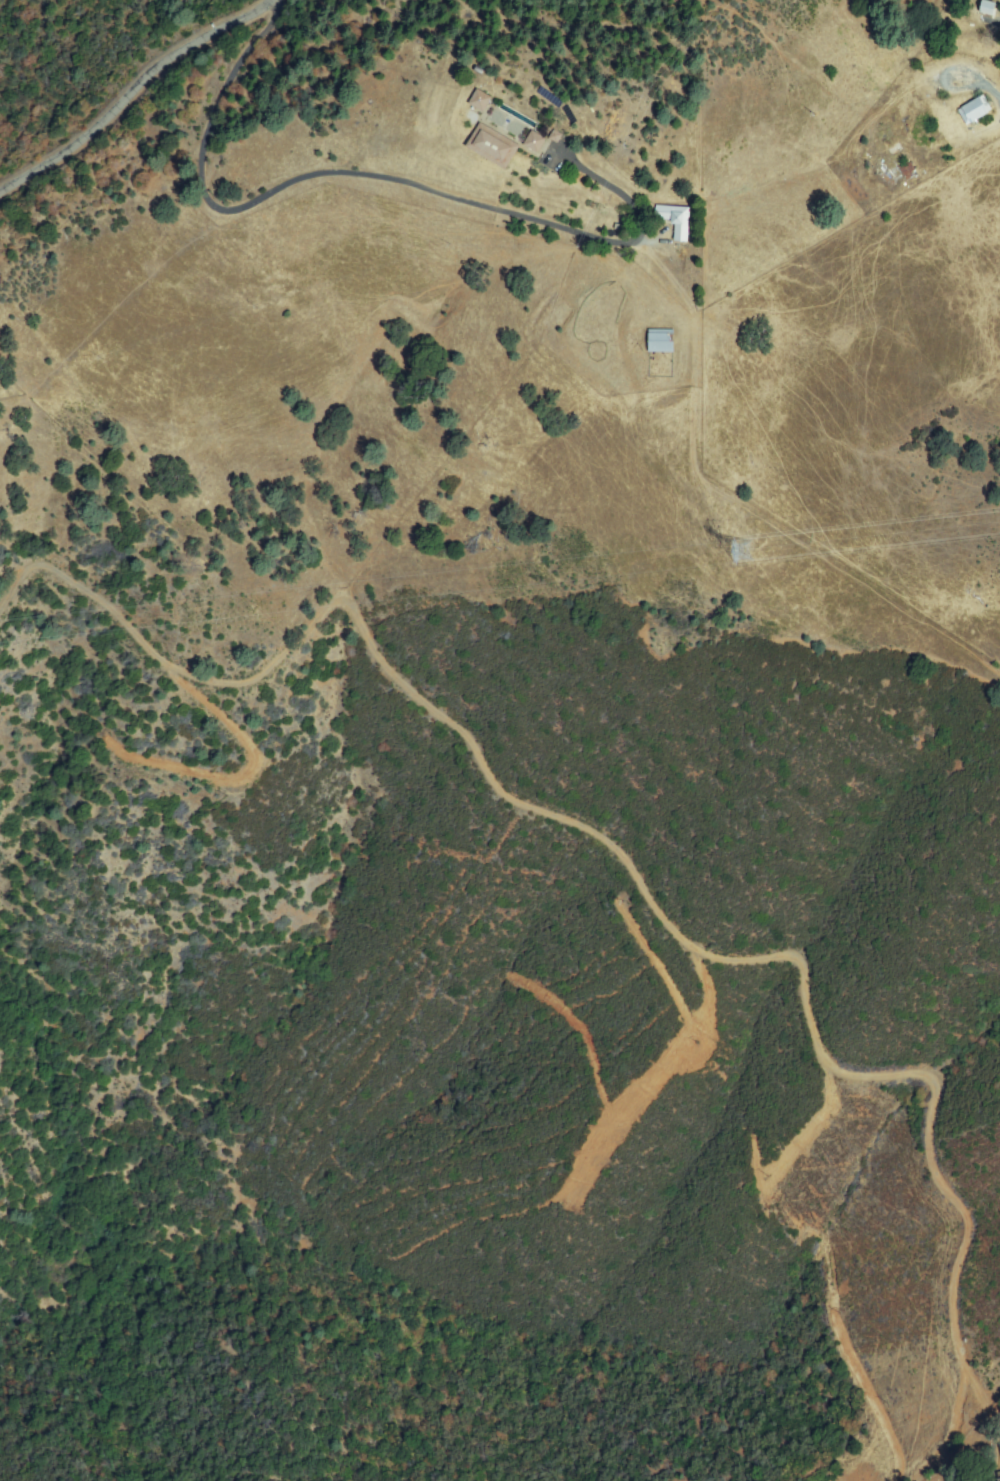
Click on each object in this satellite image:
building: (987, 7)
building: (996, 10)
road: (135, 94)
building: (480, 101)
building: (985, 109)
building: (974, 110)
building: (534, 141)
building: (492, 146)
road: (373, 176)
building: (675, 220)
building: (661, 342)
power tower: (746, 553)

